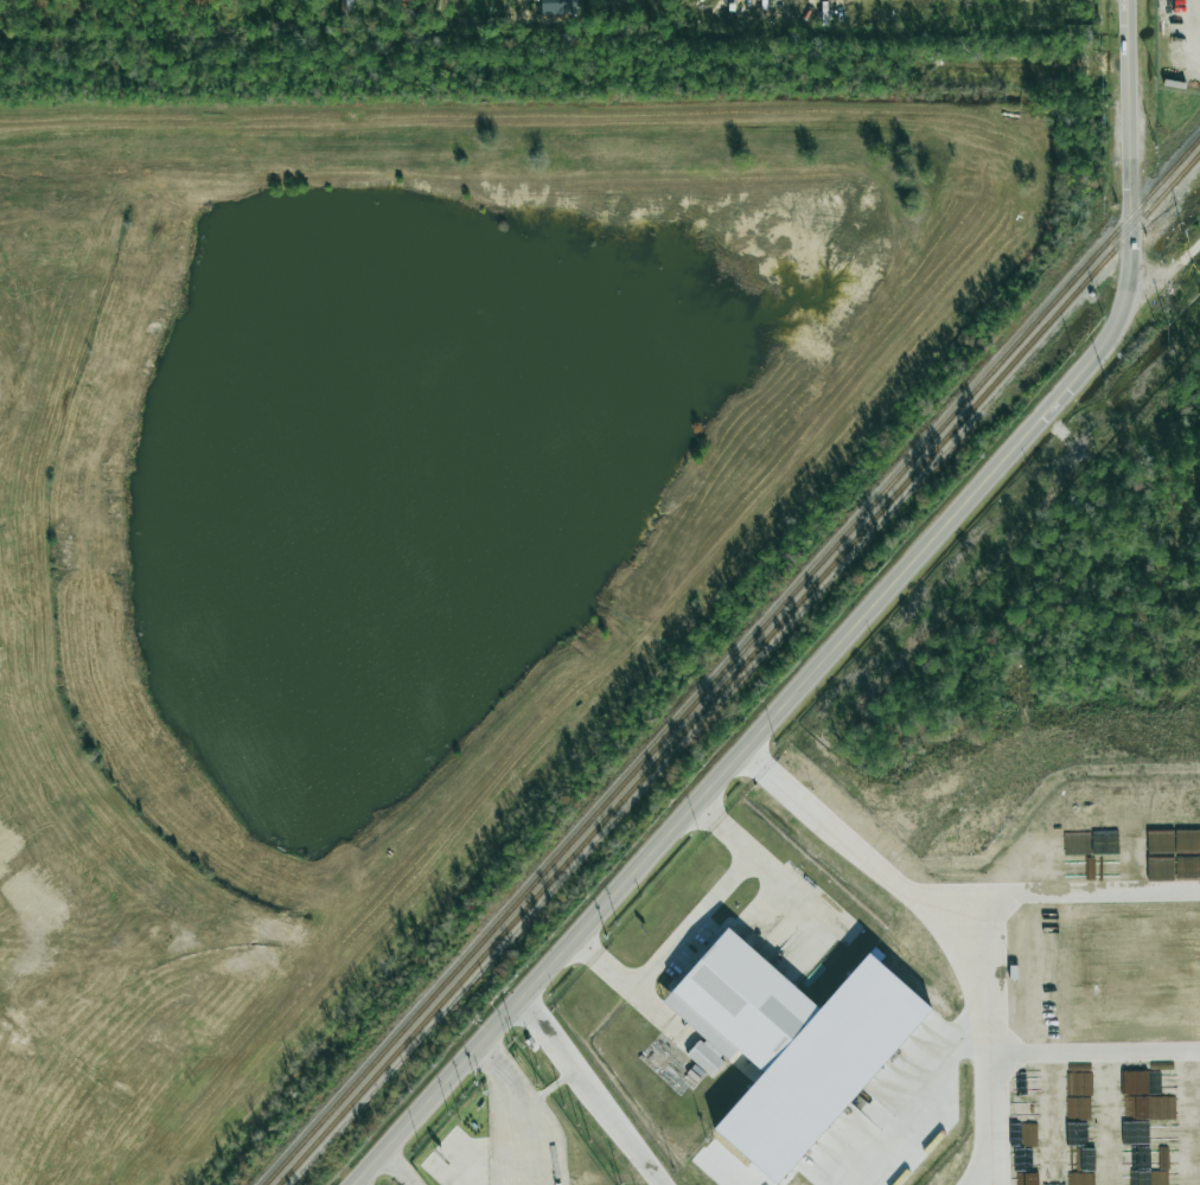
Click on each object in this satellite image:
building: (557, 6)
building: (345, 12)
road: (1042, 71)
road: (541, 118)
landfill: (387, 519)
road: (848, 635)
railway: (732, 660)
railway: (739, 668)
road: (1089, 896)
road: (977, 898)
road: (690, 928)
building: (789, 1045)
road: (1090, 1052)
road: (589, 1091)
road: (521, 1108)
road: (398, 1167)

